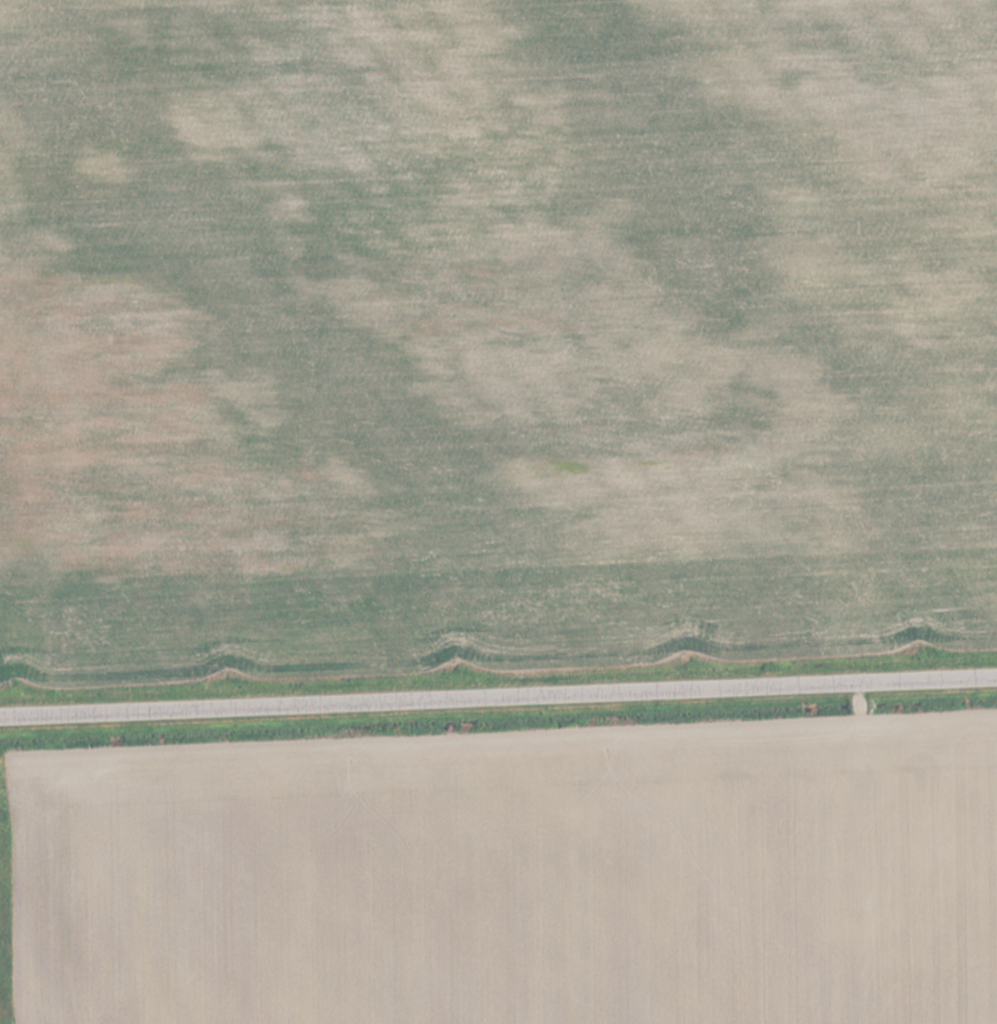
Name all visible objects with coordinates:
road: (498, 695)

